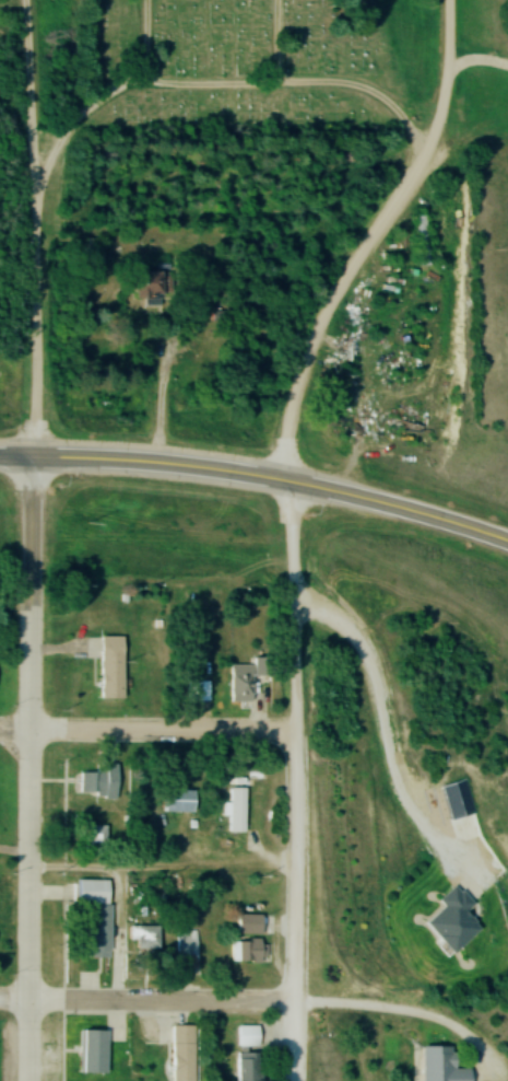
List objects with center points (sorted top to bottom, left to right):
road: (141, 40)
road: (276, 40)
park: (251, 71)
road: (220, 81)
road: (464, 139)
road: (32, 226)
road: (371, 241)
building: (416, 241)
building: (150, 284)
road: (160, 393)
road: (16, 455)
road: (273, 478)
building: (109, 669)
building: (245, 679)
road: (14, 737)
road: (161, 737)
road: (28, 768)
road: (294, 780)
building: (97, 782)
building: (176, 800)
building: (233, 810)
building: (92, 839)
road: (13, 852)
road: (161, 873)
building: (92, 918)
building: (452, 920)
building: (246, 925)
building: (141, 938)
building: (182, 951)
building: (245, 951)
road: (13, 1006)
road: (160, 1007)
road: (404, 1015)
building: (244, 1036)
building: (91, 1050)
building: (180, 1053)
building: (439, 1065)
building: (245, 1066)

